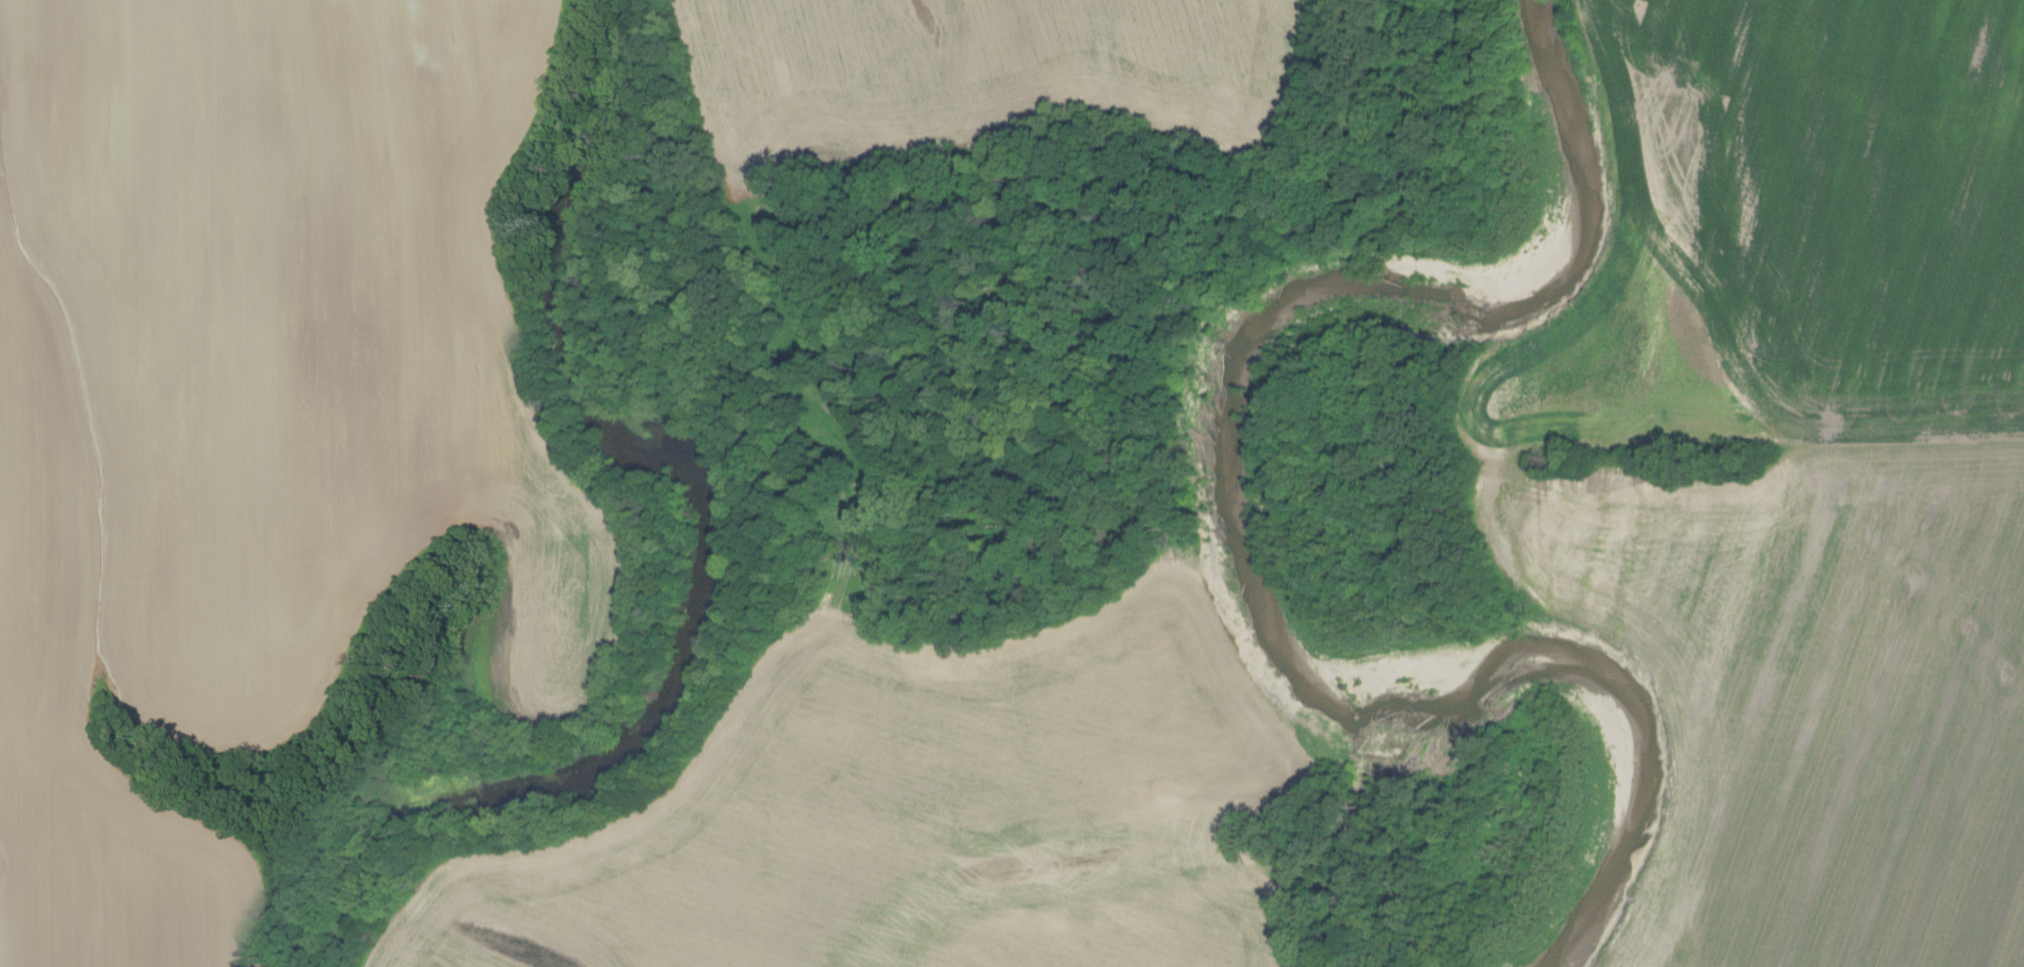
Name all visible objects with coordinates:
river: (1236, 537)

